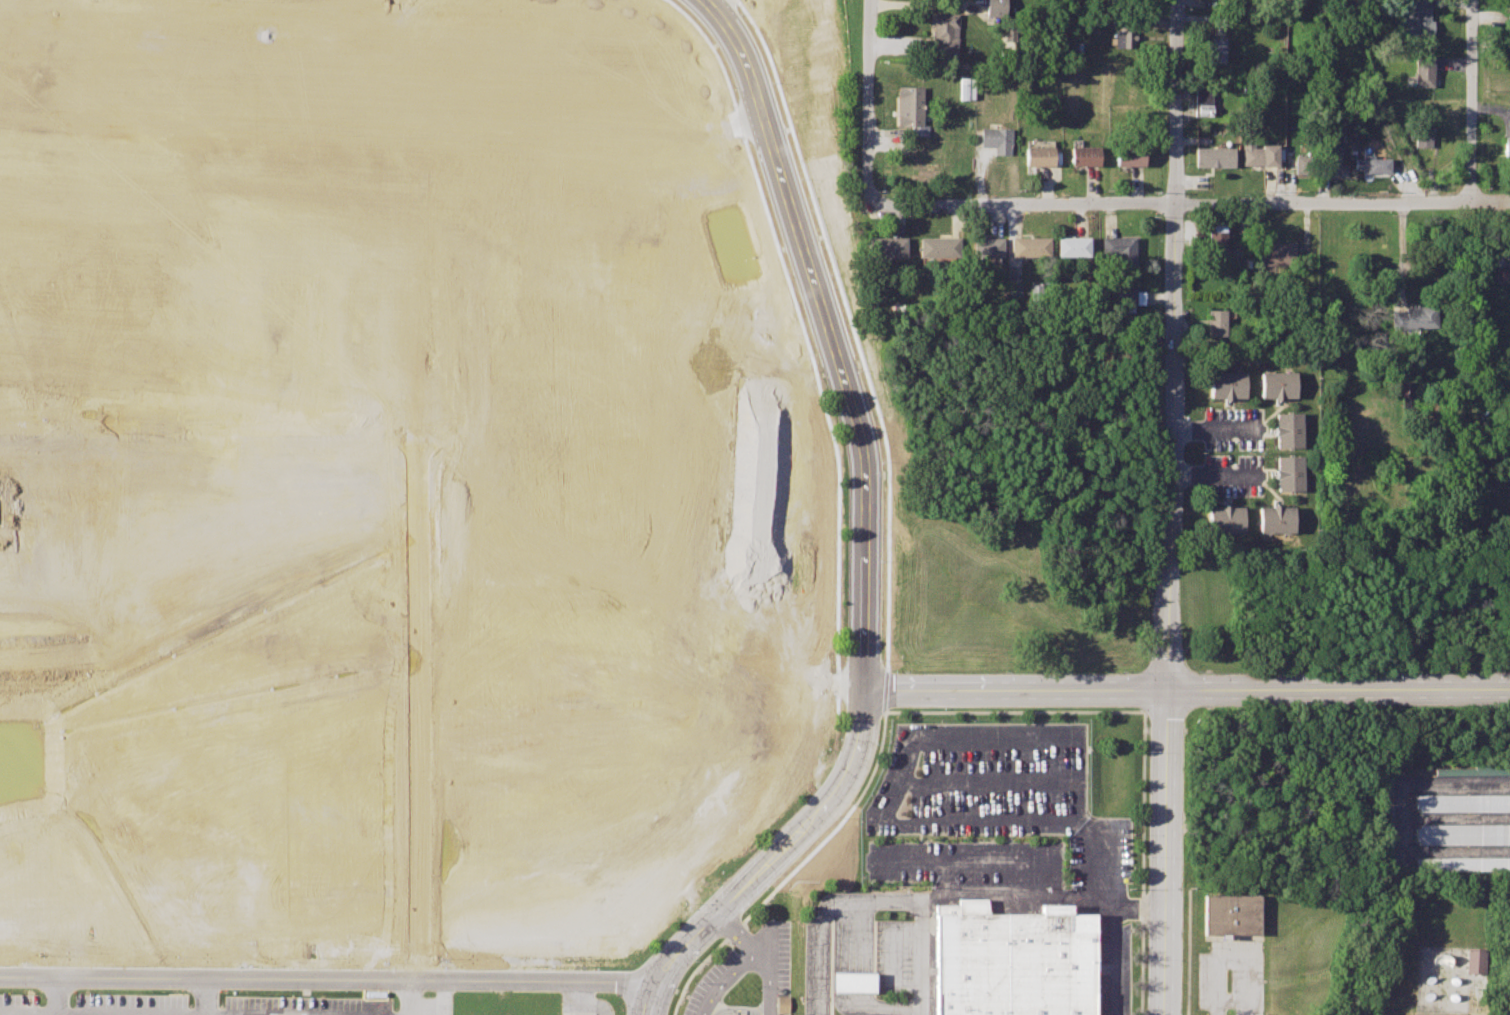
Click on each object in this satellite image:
road: (924, 5)
building: (996, 7)
building: (1419, 19)
building: (945, 30)
building: (1124, 38)
building: (1215, 49)
building: (1424, 70)
building: (966, 88)
road: (866, 101)
building: (1204, 102)
road: (1472, 102)
building: (910, 107)
building: (1422, 131)
building: (996, 139)
building: (1507, 146)
building: (1084, 153)
building: (1259, 154)
building: (1039, 155)
building: (1130, 155)
building: (1214, 156)
building: (1372, 163)
building: (1304, 164)
building: (1332, 165)
road: (1023, 203)
road: (1341, 203)
building: (1216, 239)
building: (938, 245)
building: (987, 245)
building: (887, 246)
building: (1030, 246)
building: (1071, 246)
building: (1120, 250)
building: (1507, 251)
building: (1277, 253)
road: (1400, 255)
building: (1500, 272)
building: (1123, 297)
building: (1413, 316)
building: (1216, 322)
building: (1278, 385)
building: (1228, 386)
road: (21, 410)
road: (1212, 427)
building: (1288, 430)
parking lot: (1235, 452)
building: (1289, 473)
road: (1213, 474)
road: (1172, 507)
building: (1276, 519)
building: (1226, 520)
road: (868, 532)
road: (1019, 689)
road: (1340, 691)
parking lot: (1001, 791)
building: (1461, 802)
building: (1462, 833)
road: (1099, 858)
parking lot: (965, 861)
road: (979, 862)
building: (1462, 864)
road: (993, 899)
building: (1229, 913)
road: (736, 934)
road: (756, 953)
parking lot: (894, 955)
road: (924, 957)
road: (1235, 959)
road: (1111, 960)
building: (1476, 960)
building: (1013, 961)
road: (821, 963)
parking lot: (1112, 965)
parking lot: (817, 966)
road: (842, 970)
road: (893, 971)
road: (328, 974)
parking lot: (748, 978)
road: (862, 981)
building: (852, 982)
road: (414, 995)
road: (52, 996)
road: (204, 996)
road: (577, 996)
parking lot: (304, 1002)
building: (782, 1003)
parking lot: (421, 1004)
parking lot: (582, 1005)
road: (735, 1010)

